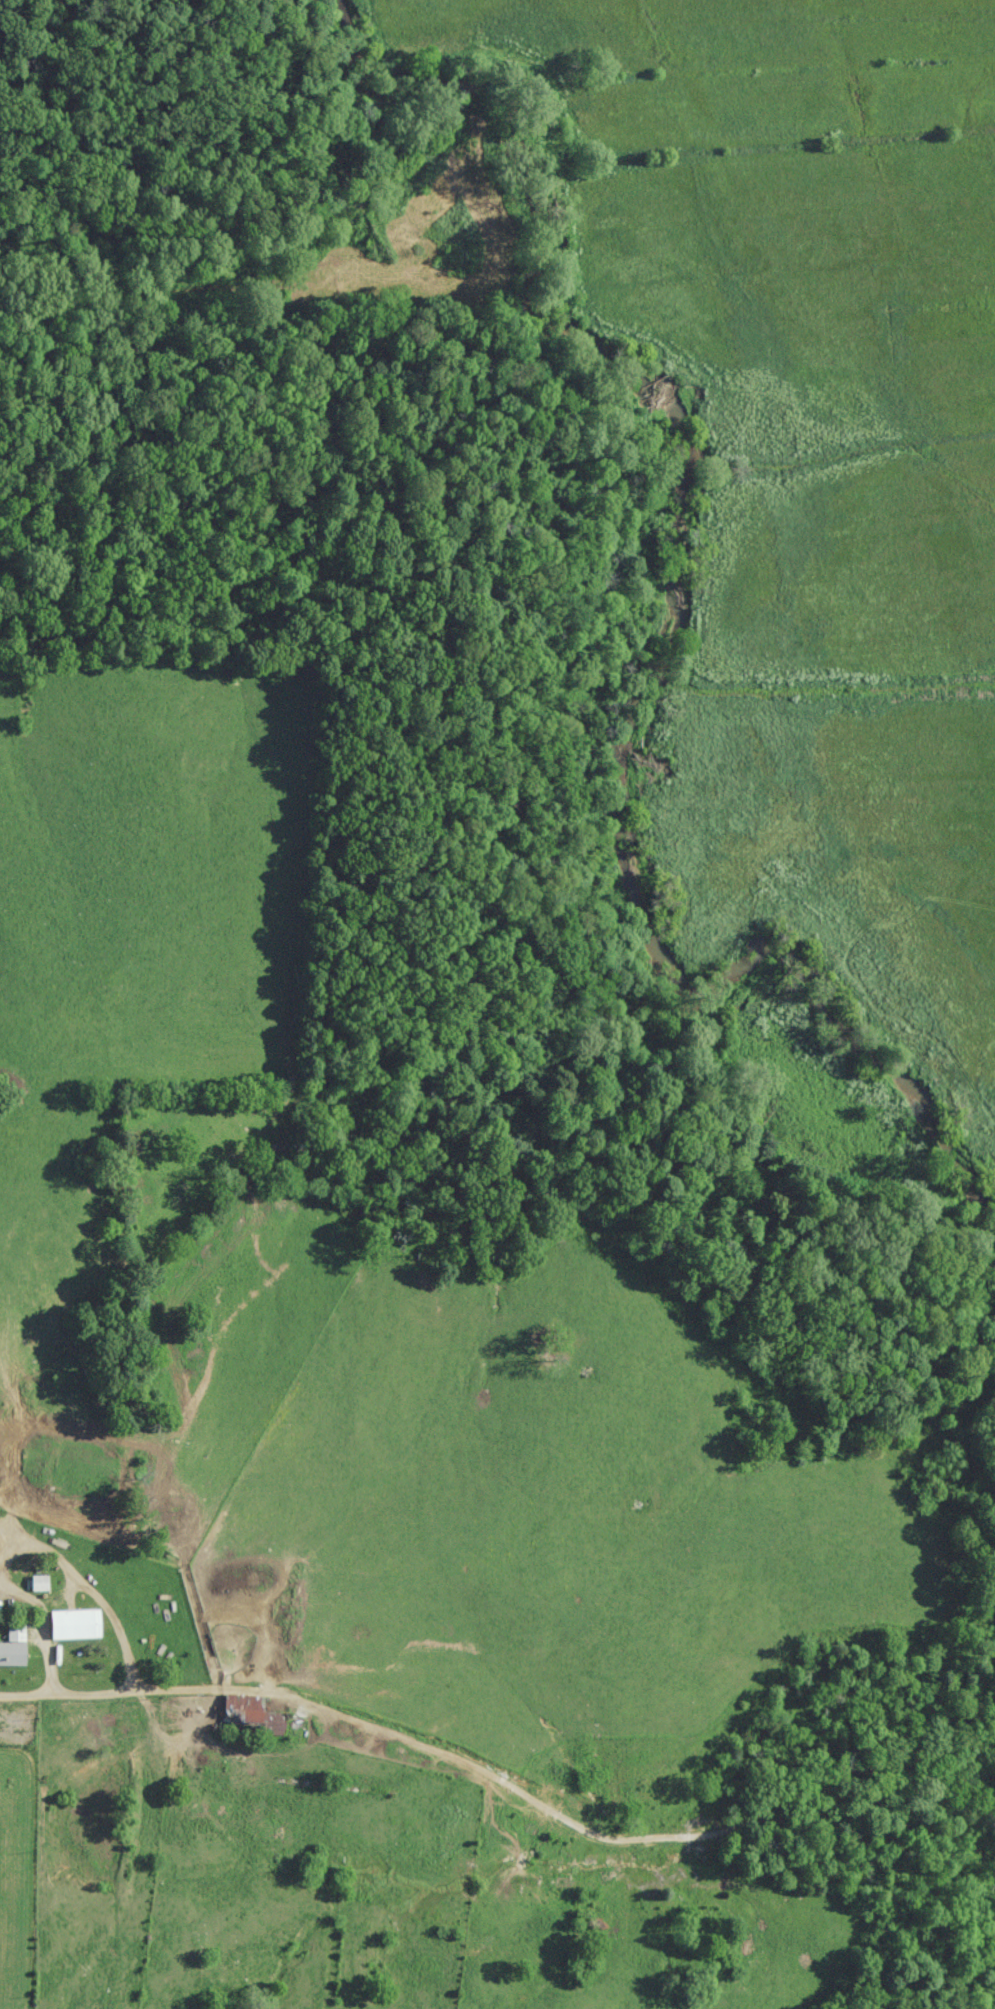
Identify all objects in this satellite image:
road: (52, 1052)
building: (73, 1623)
building: (13, 1646)
road: (50, 1707)
building: (251, 1715)

